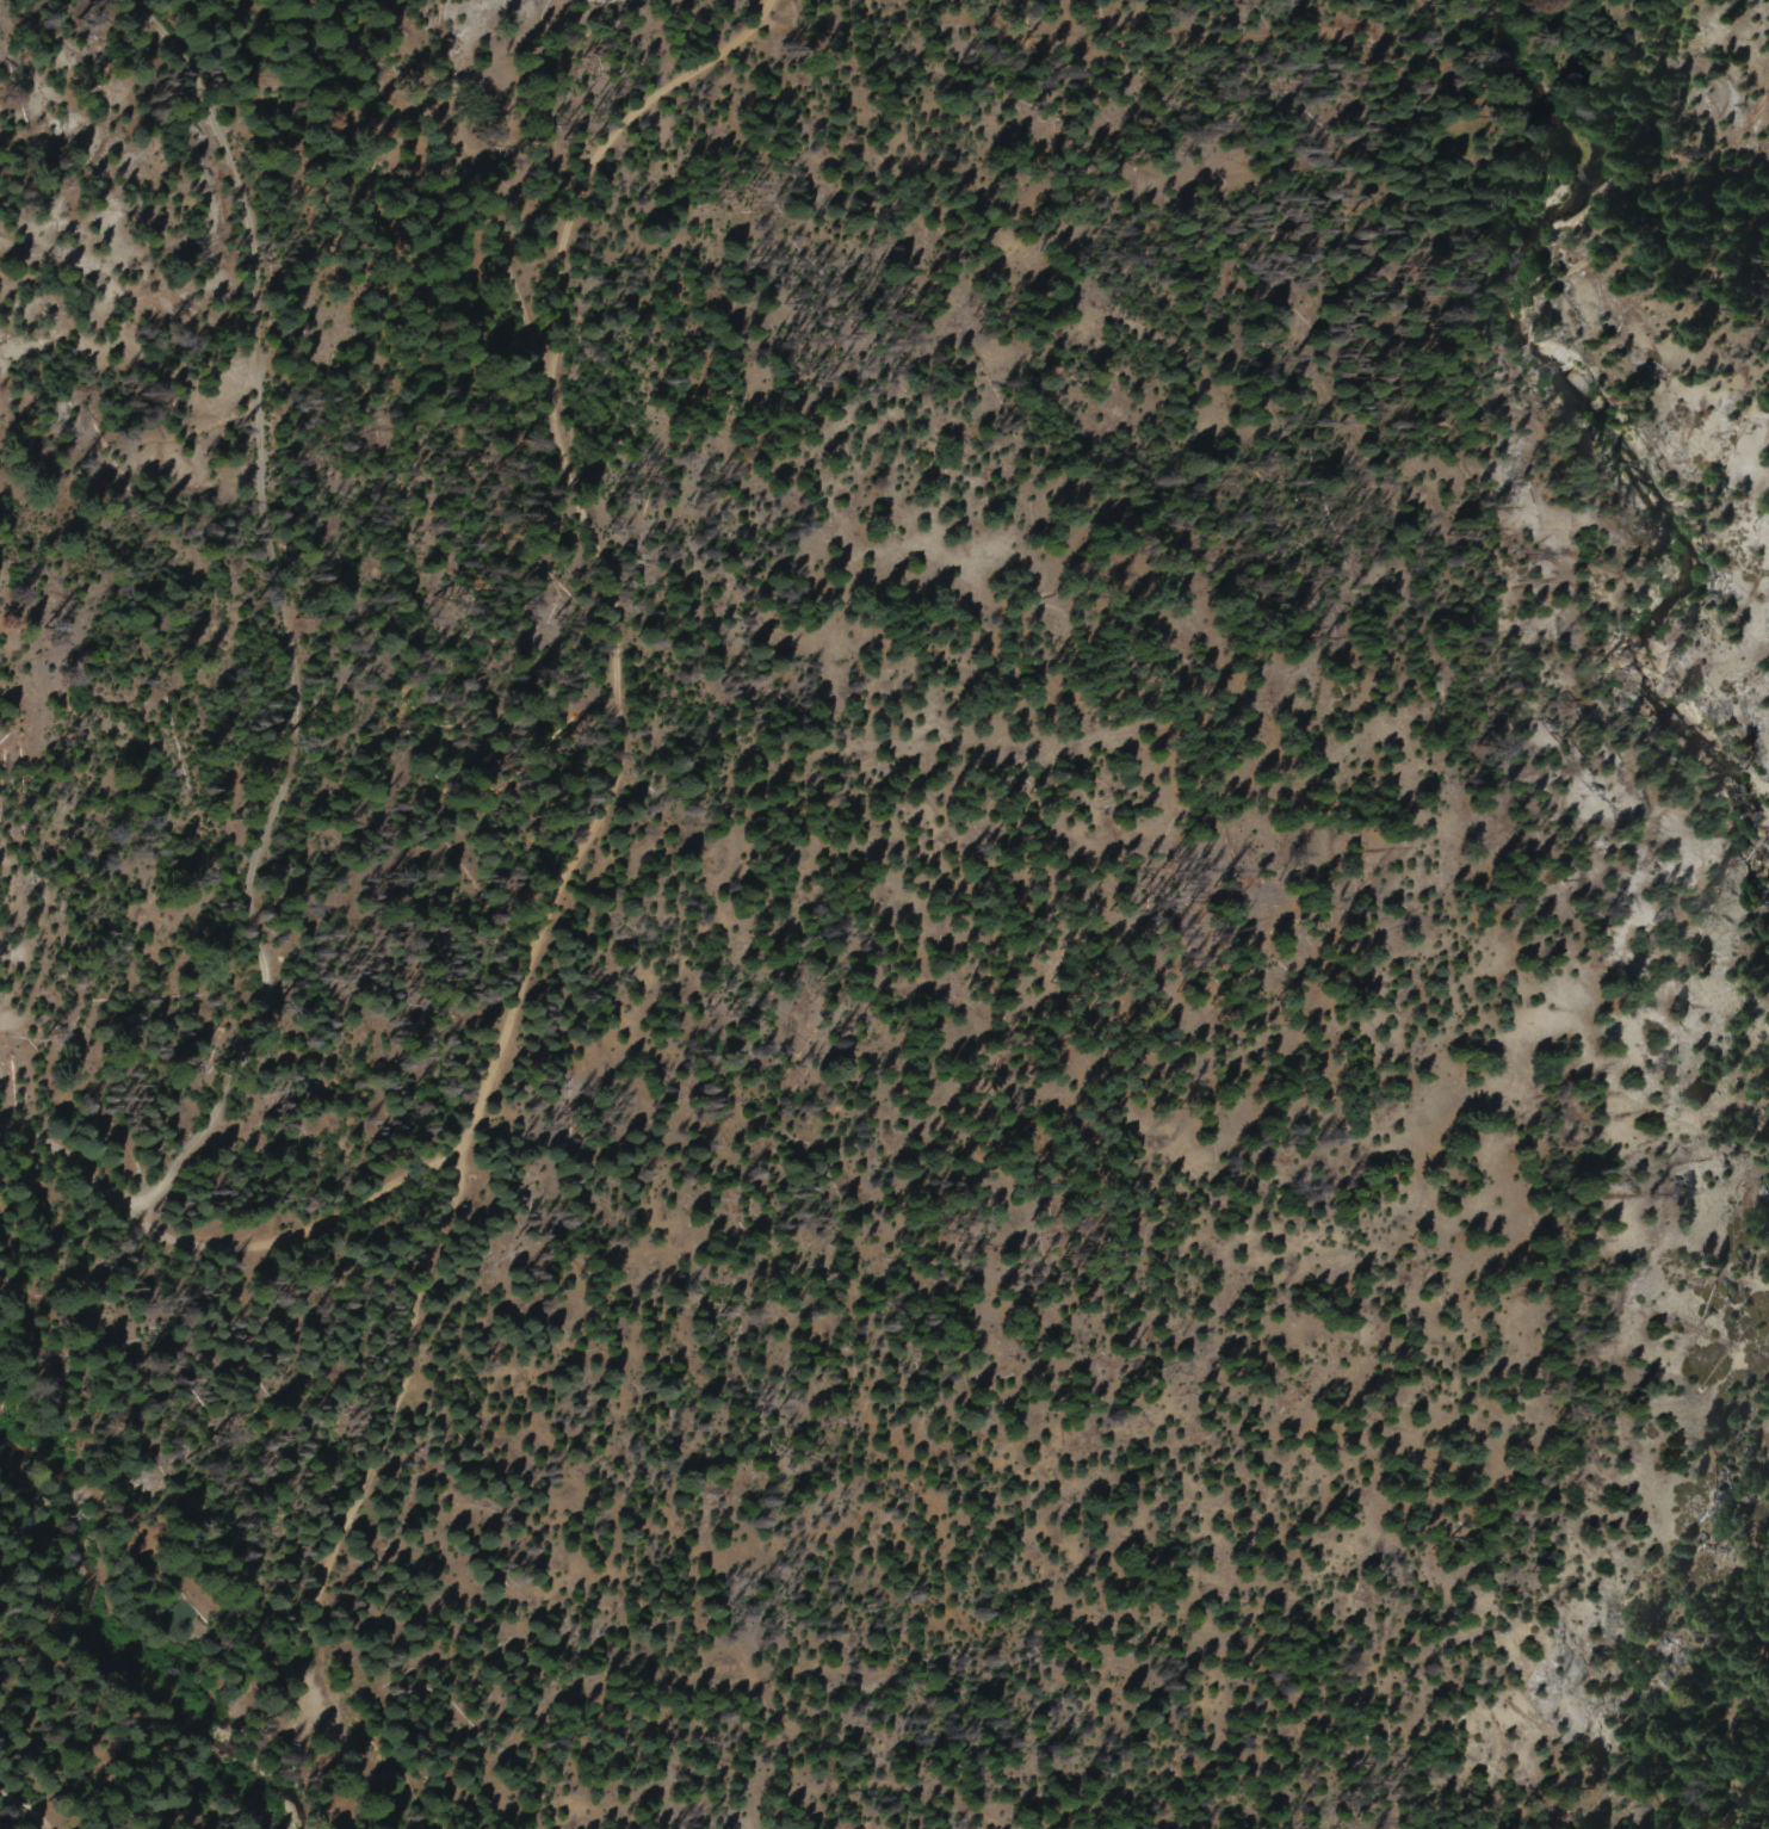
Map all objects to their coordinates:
road: (608, 129)
road: (441, 157)
road: (277, 611)
road: (610, 718)
road: (61, 1156)
road: (302, 1225)
road: (377, 1466)
road: (20, 1812)

